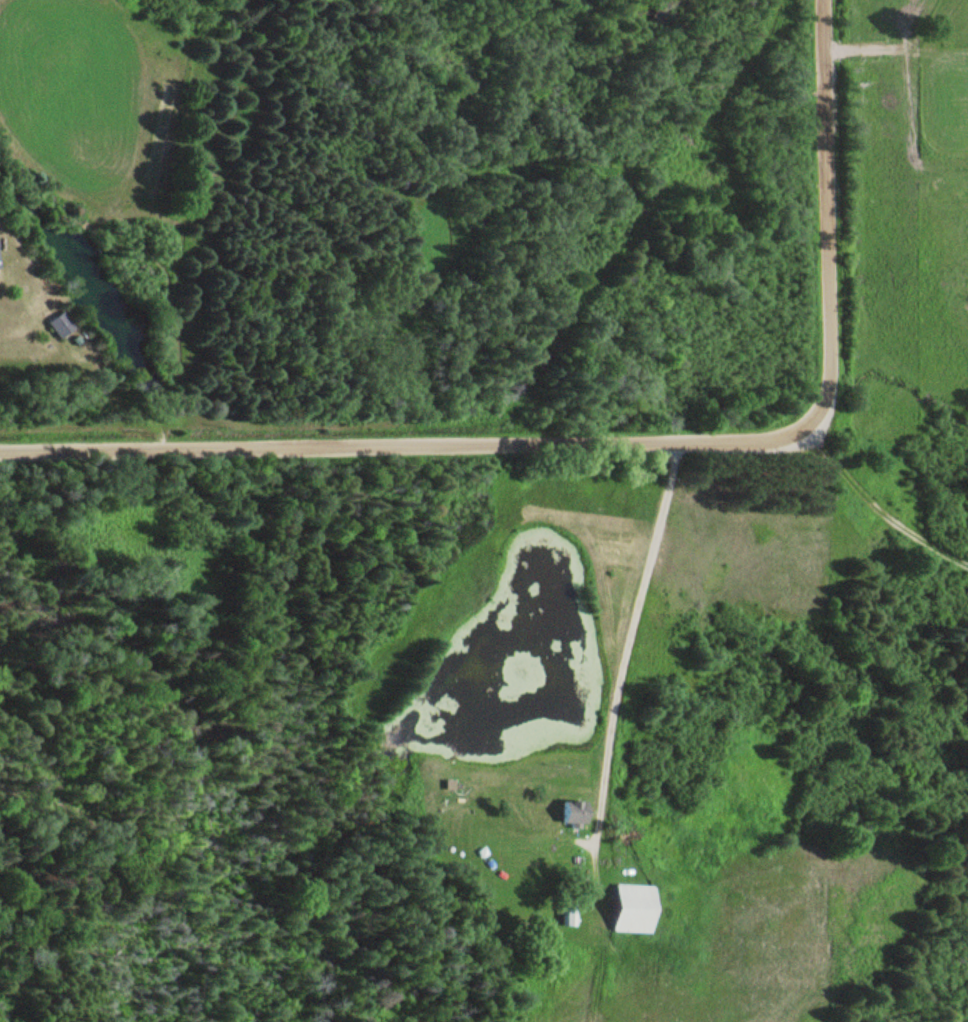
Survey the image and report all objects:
building: (0, 259)
building: (64, 325)
road: (621, 440)
road: (635, 638)
building: (577, 812)
building: (637, 907)
building: (571, 914)

